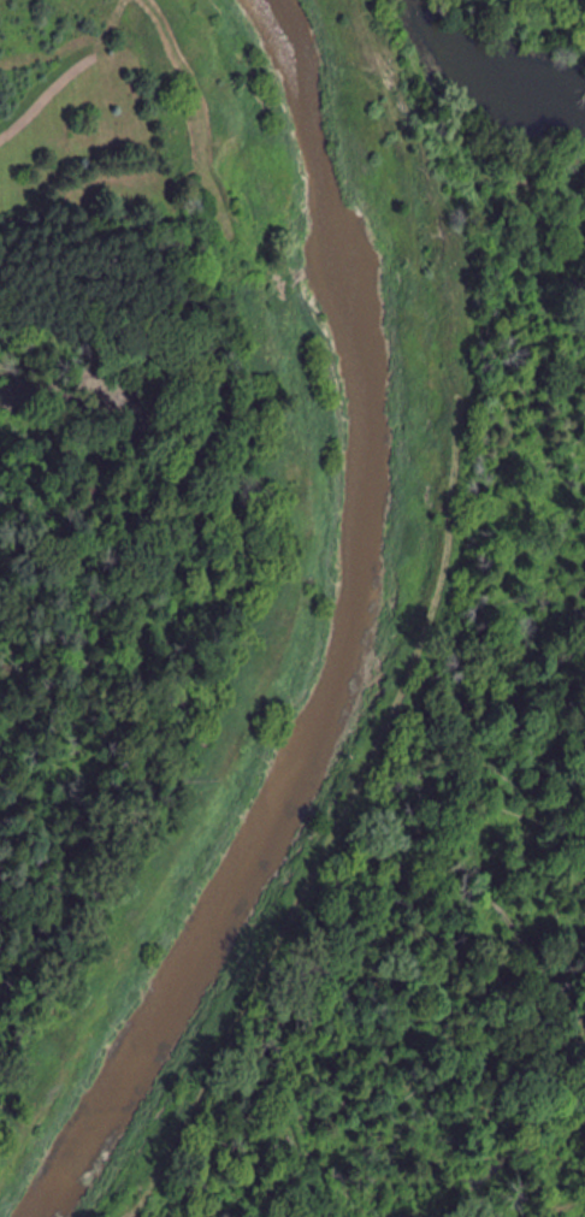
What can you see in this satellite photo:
river: (341, 642)

